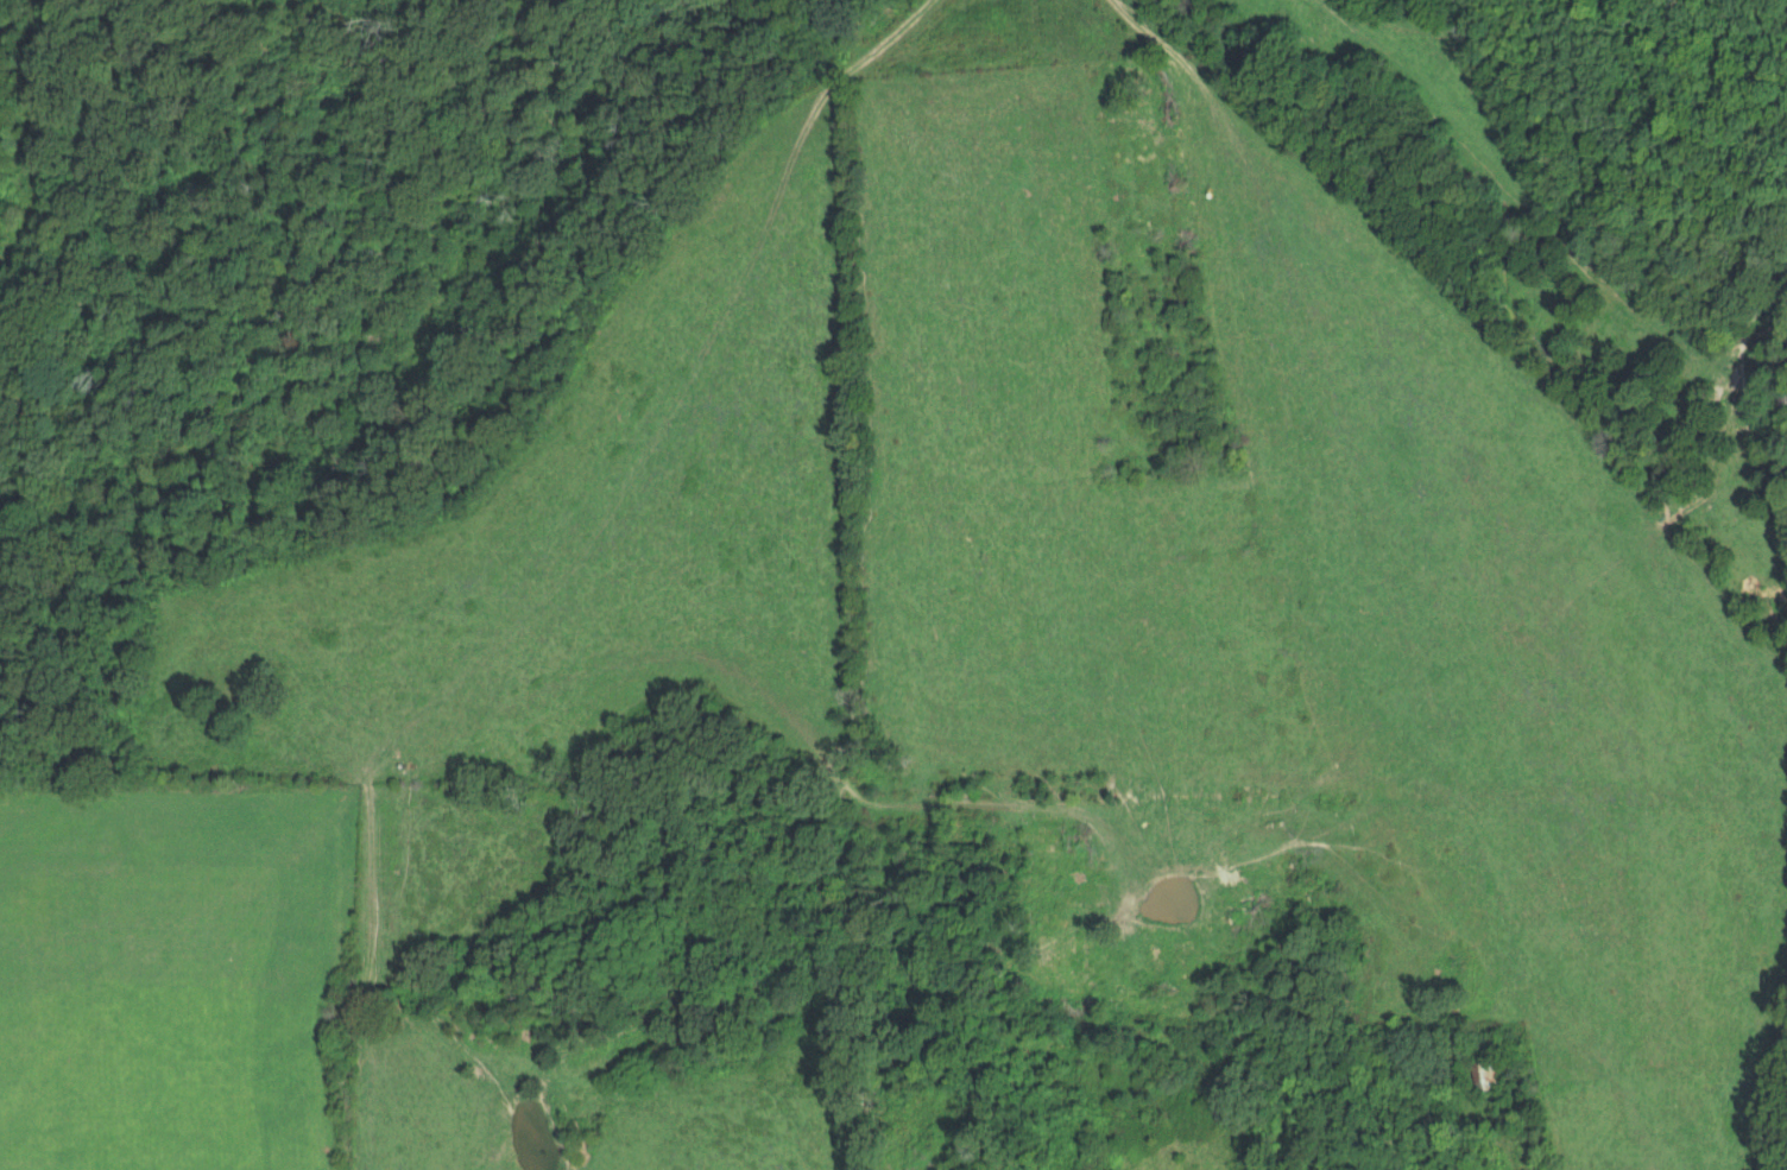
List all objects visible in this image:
building: (1486, 1076)

